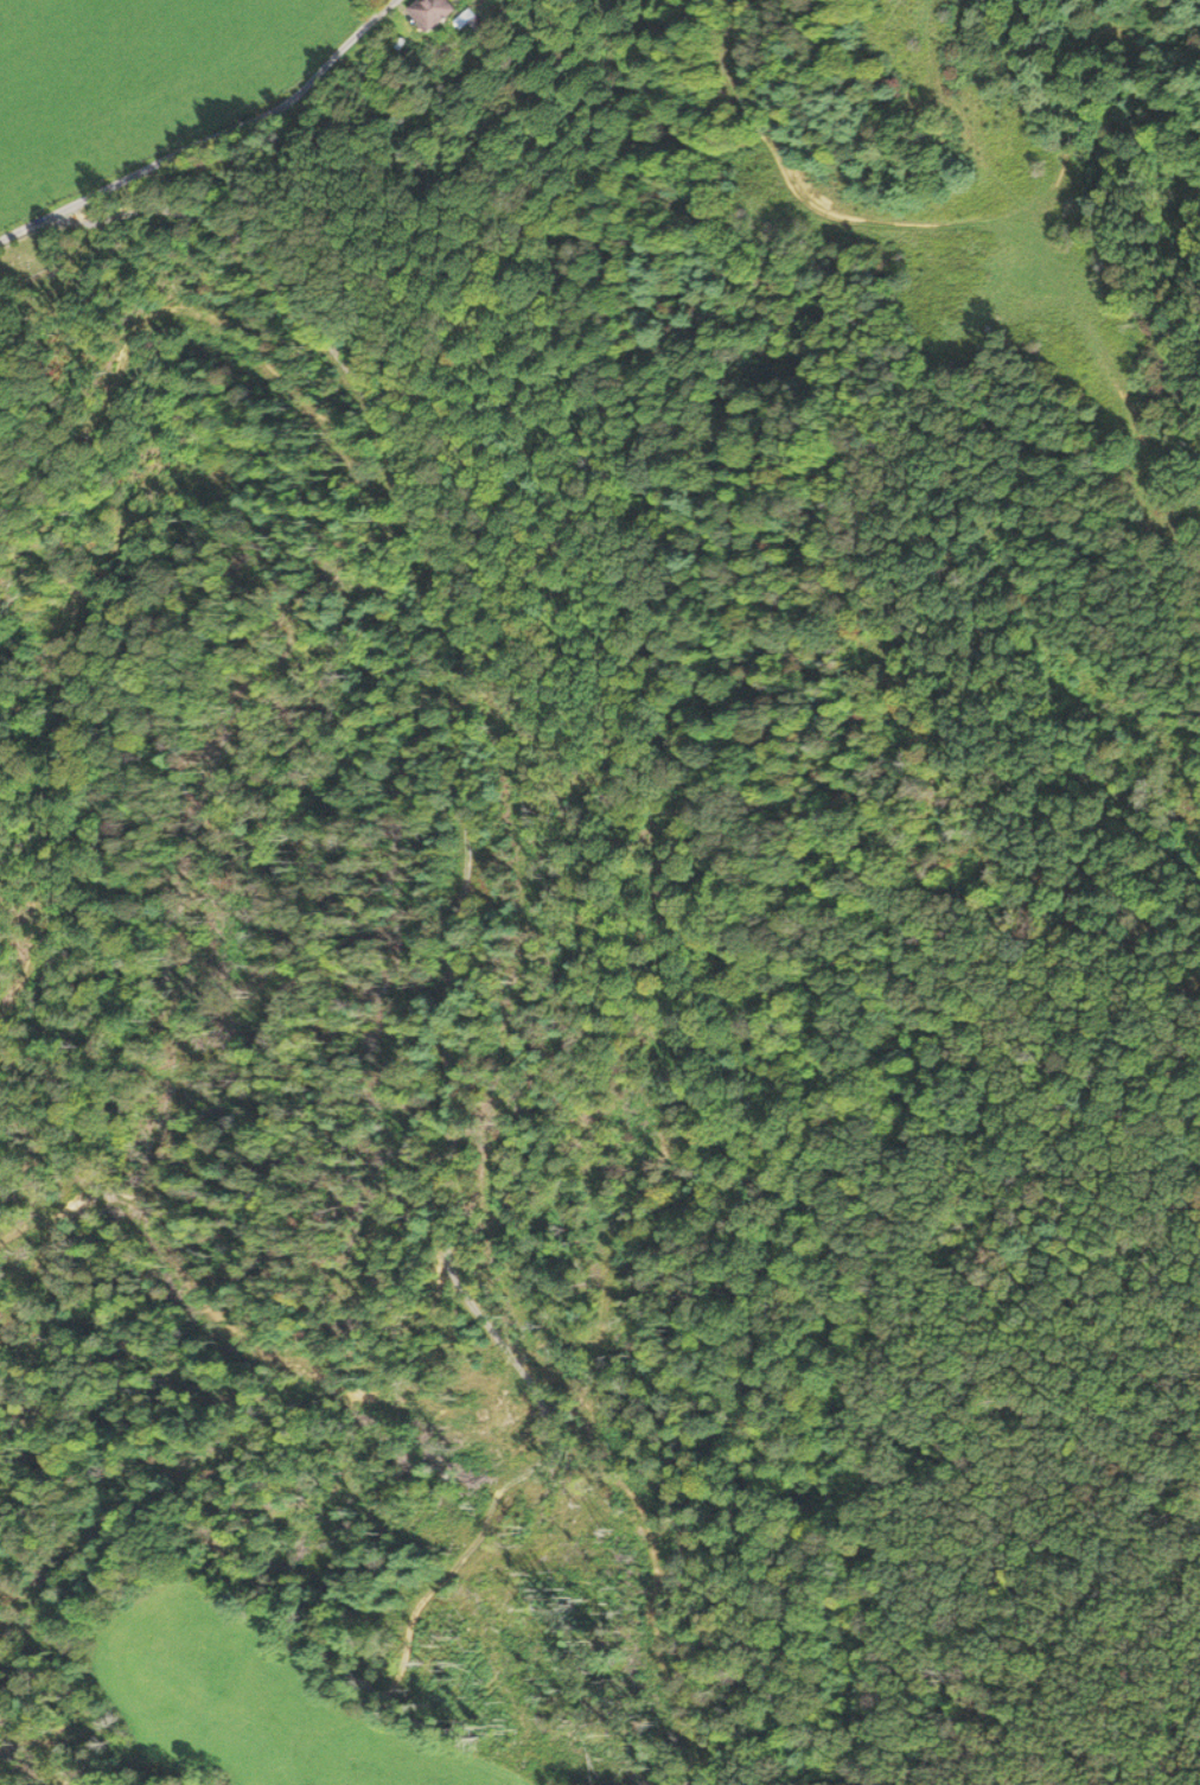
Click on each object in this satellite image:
road: (408, 11)
building: (433, 12)
road: (210, 142)

